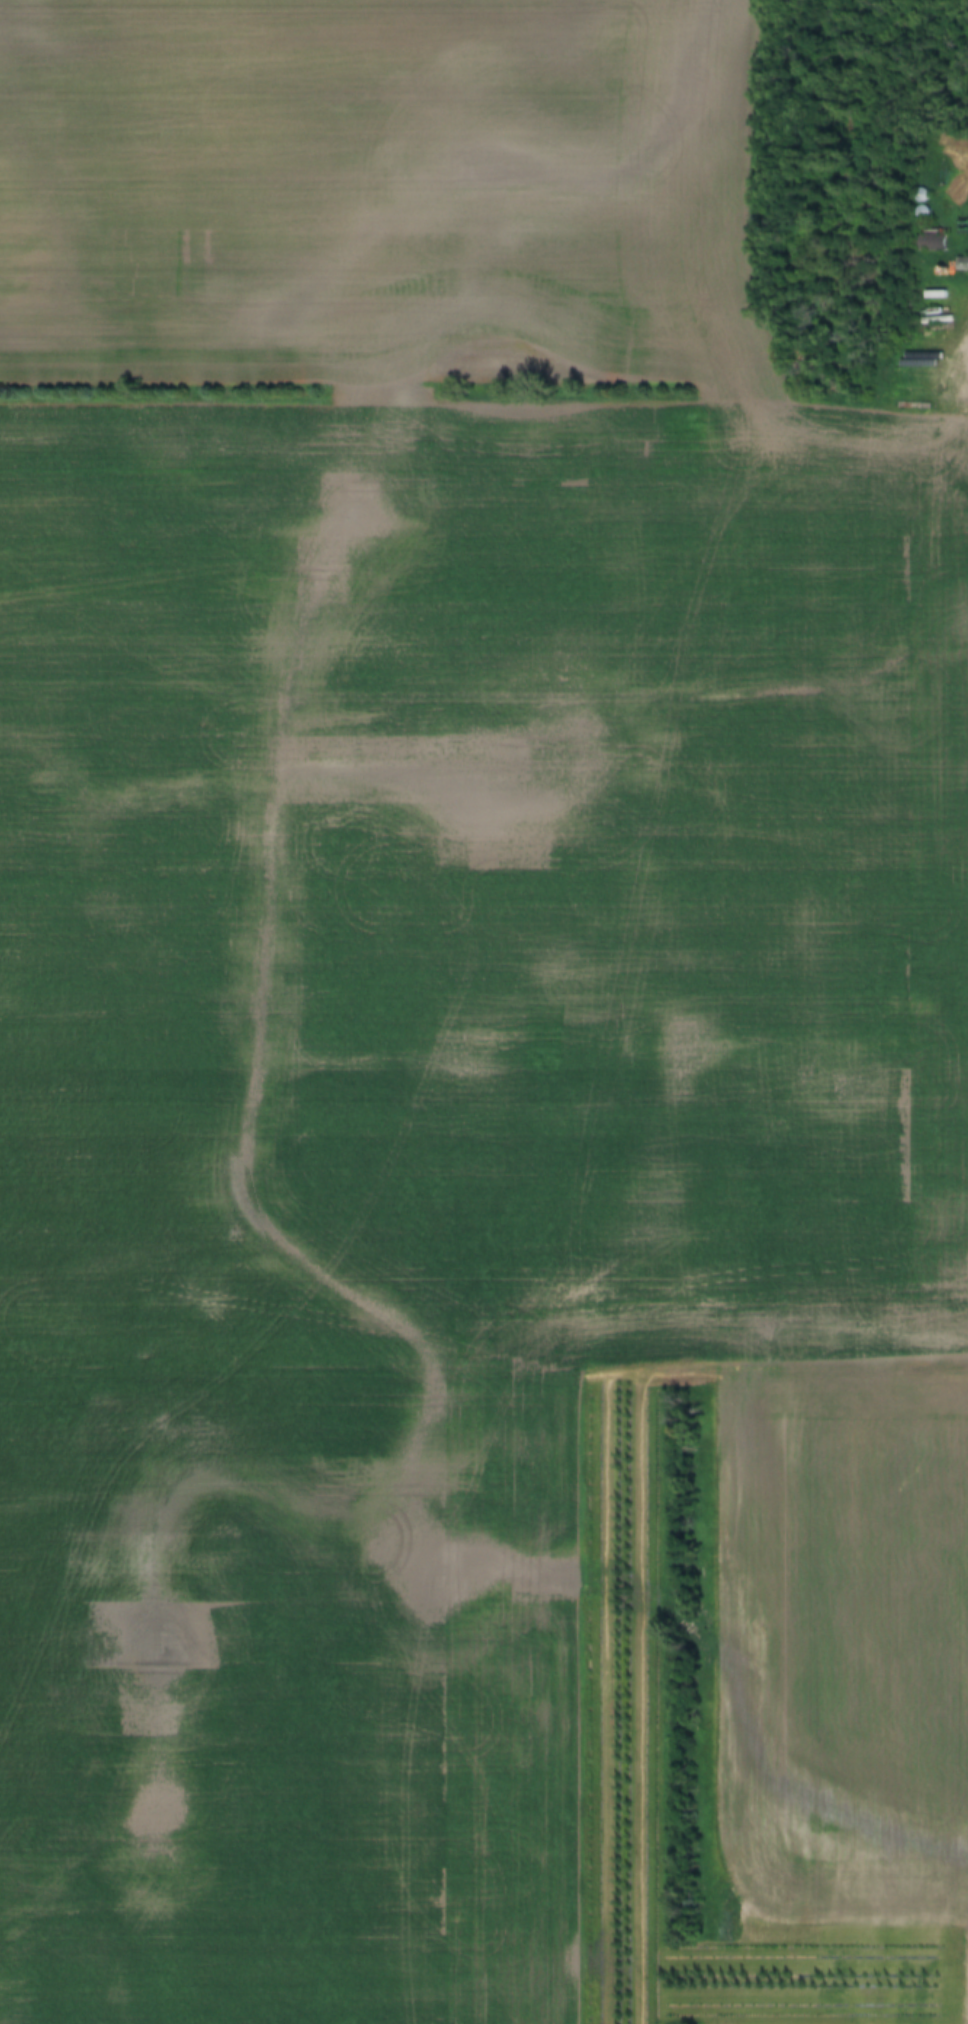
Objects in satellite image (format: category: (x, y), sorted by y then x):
building: (917, 194)
building: (918, 212)
building: (928, 242)
building: (960, 264)

